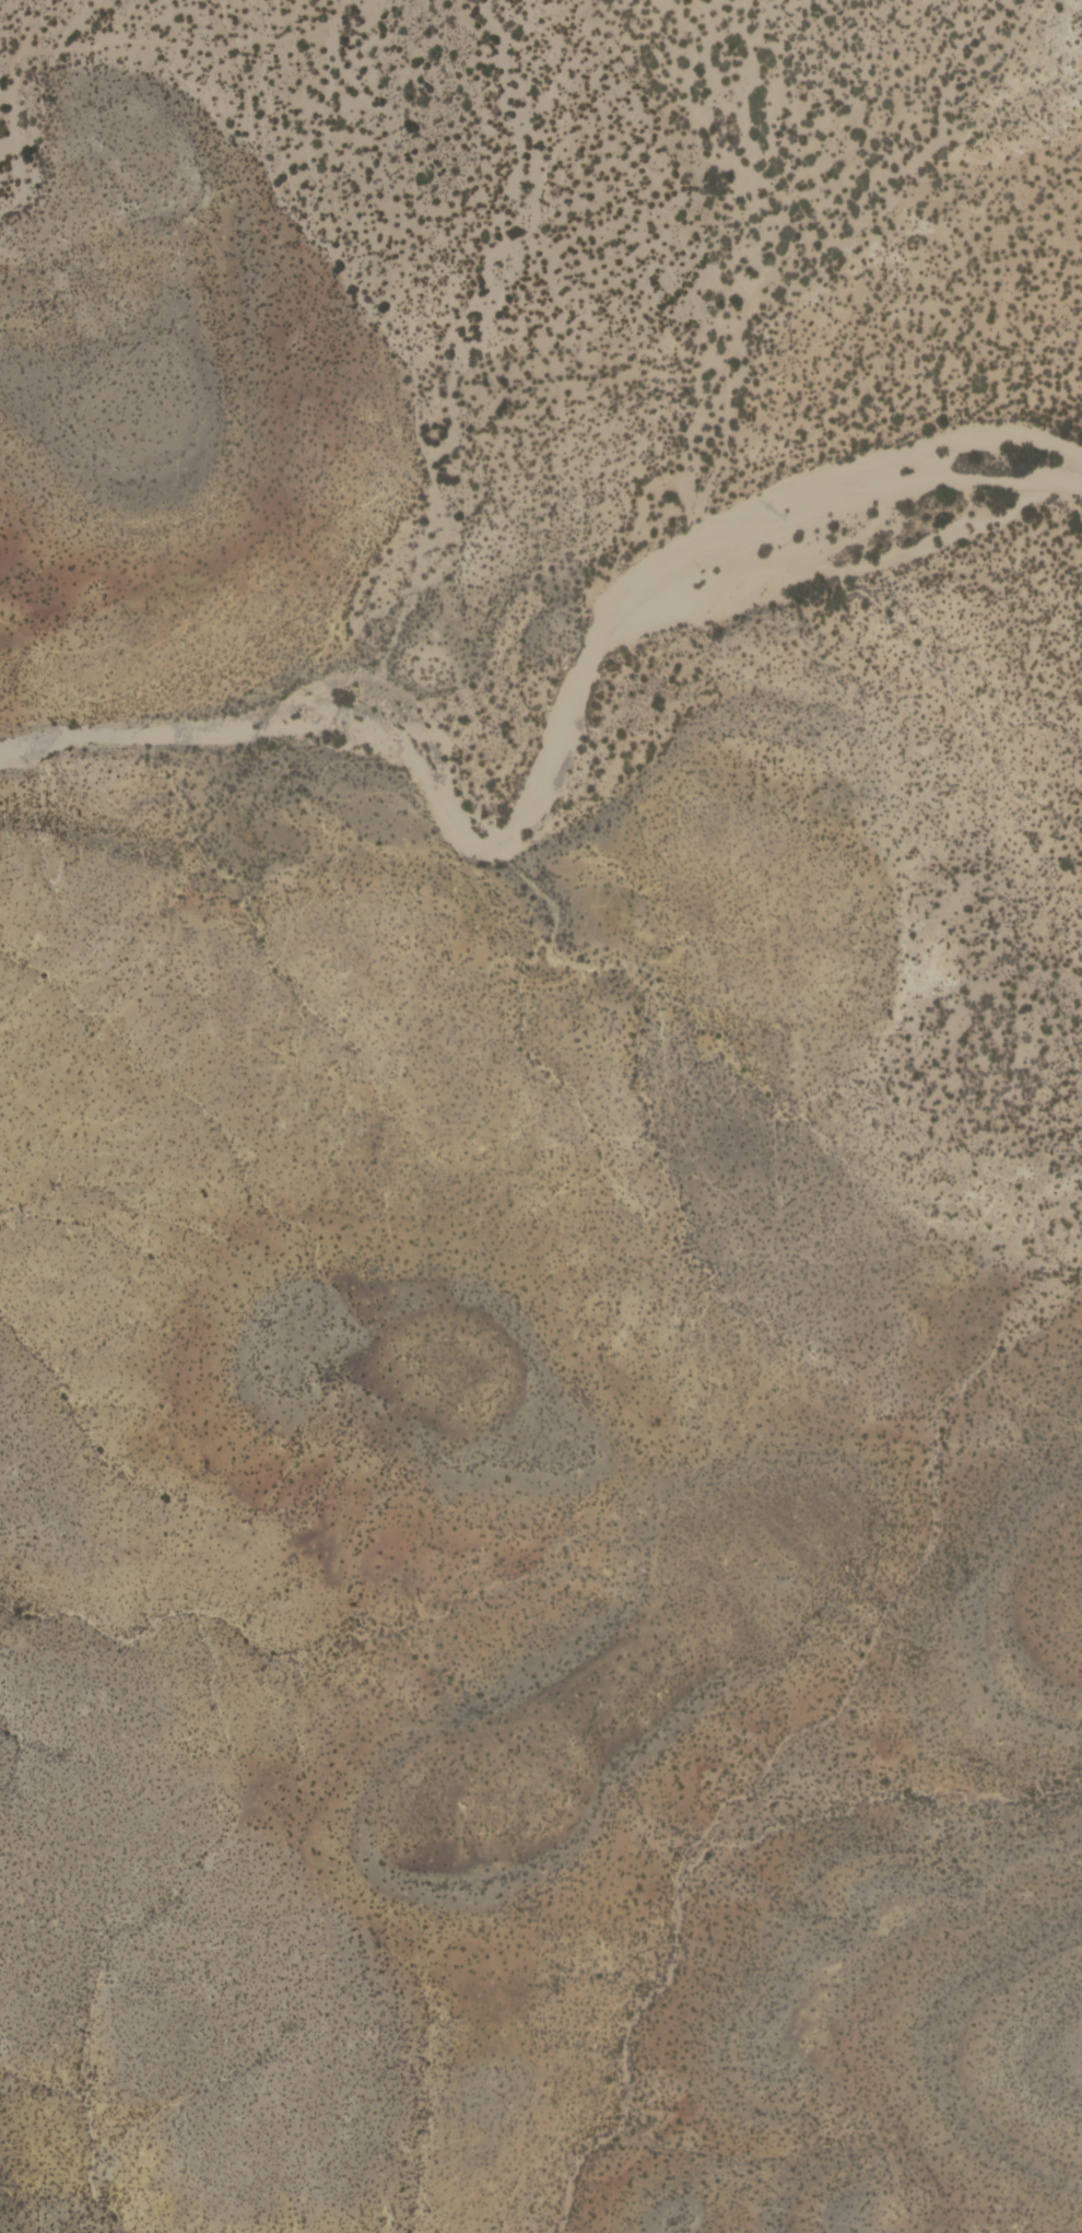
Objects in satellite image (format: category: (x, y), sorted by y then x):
road: (167, 45)
road: (702, 1157)
road: (807, 2224)

